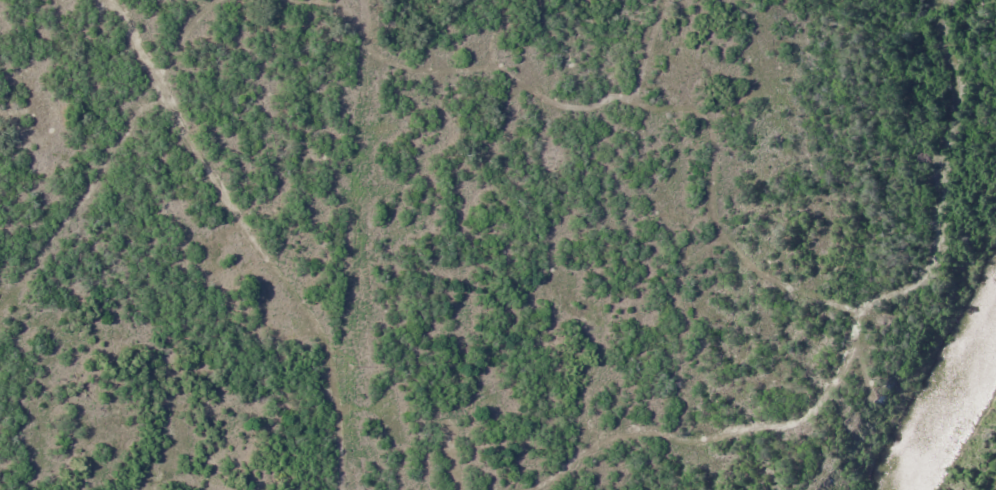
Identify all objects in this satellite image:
river: (949, 399)

